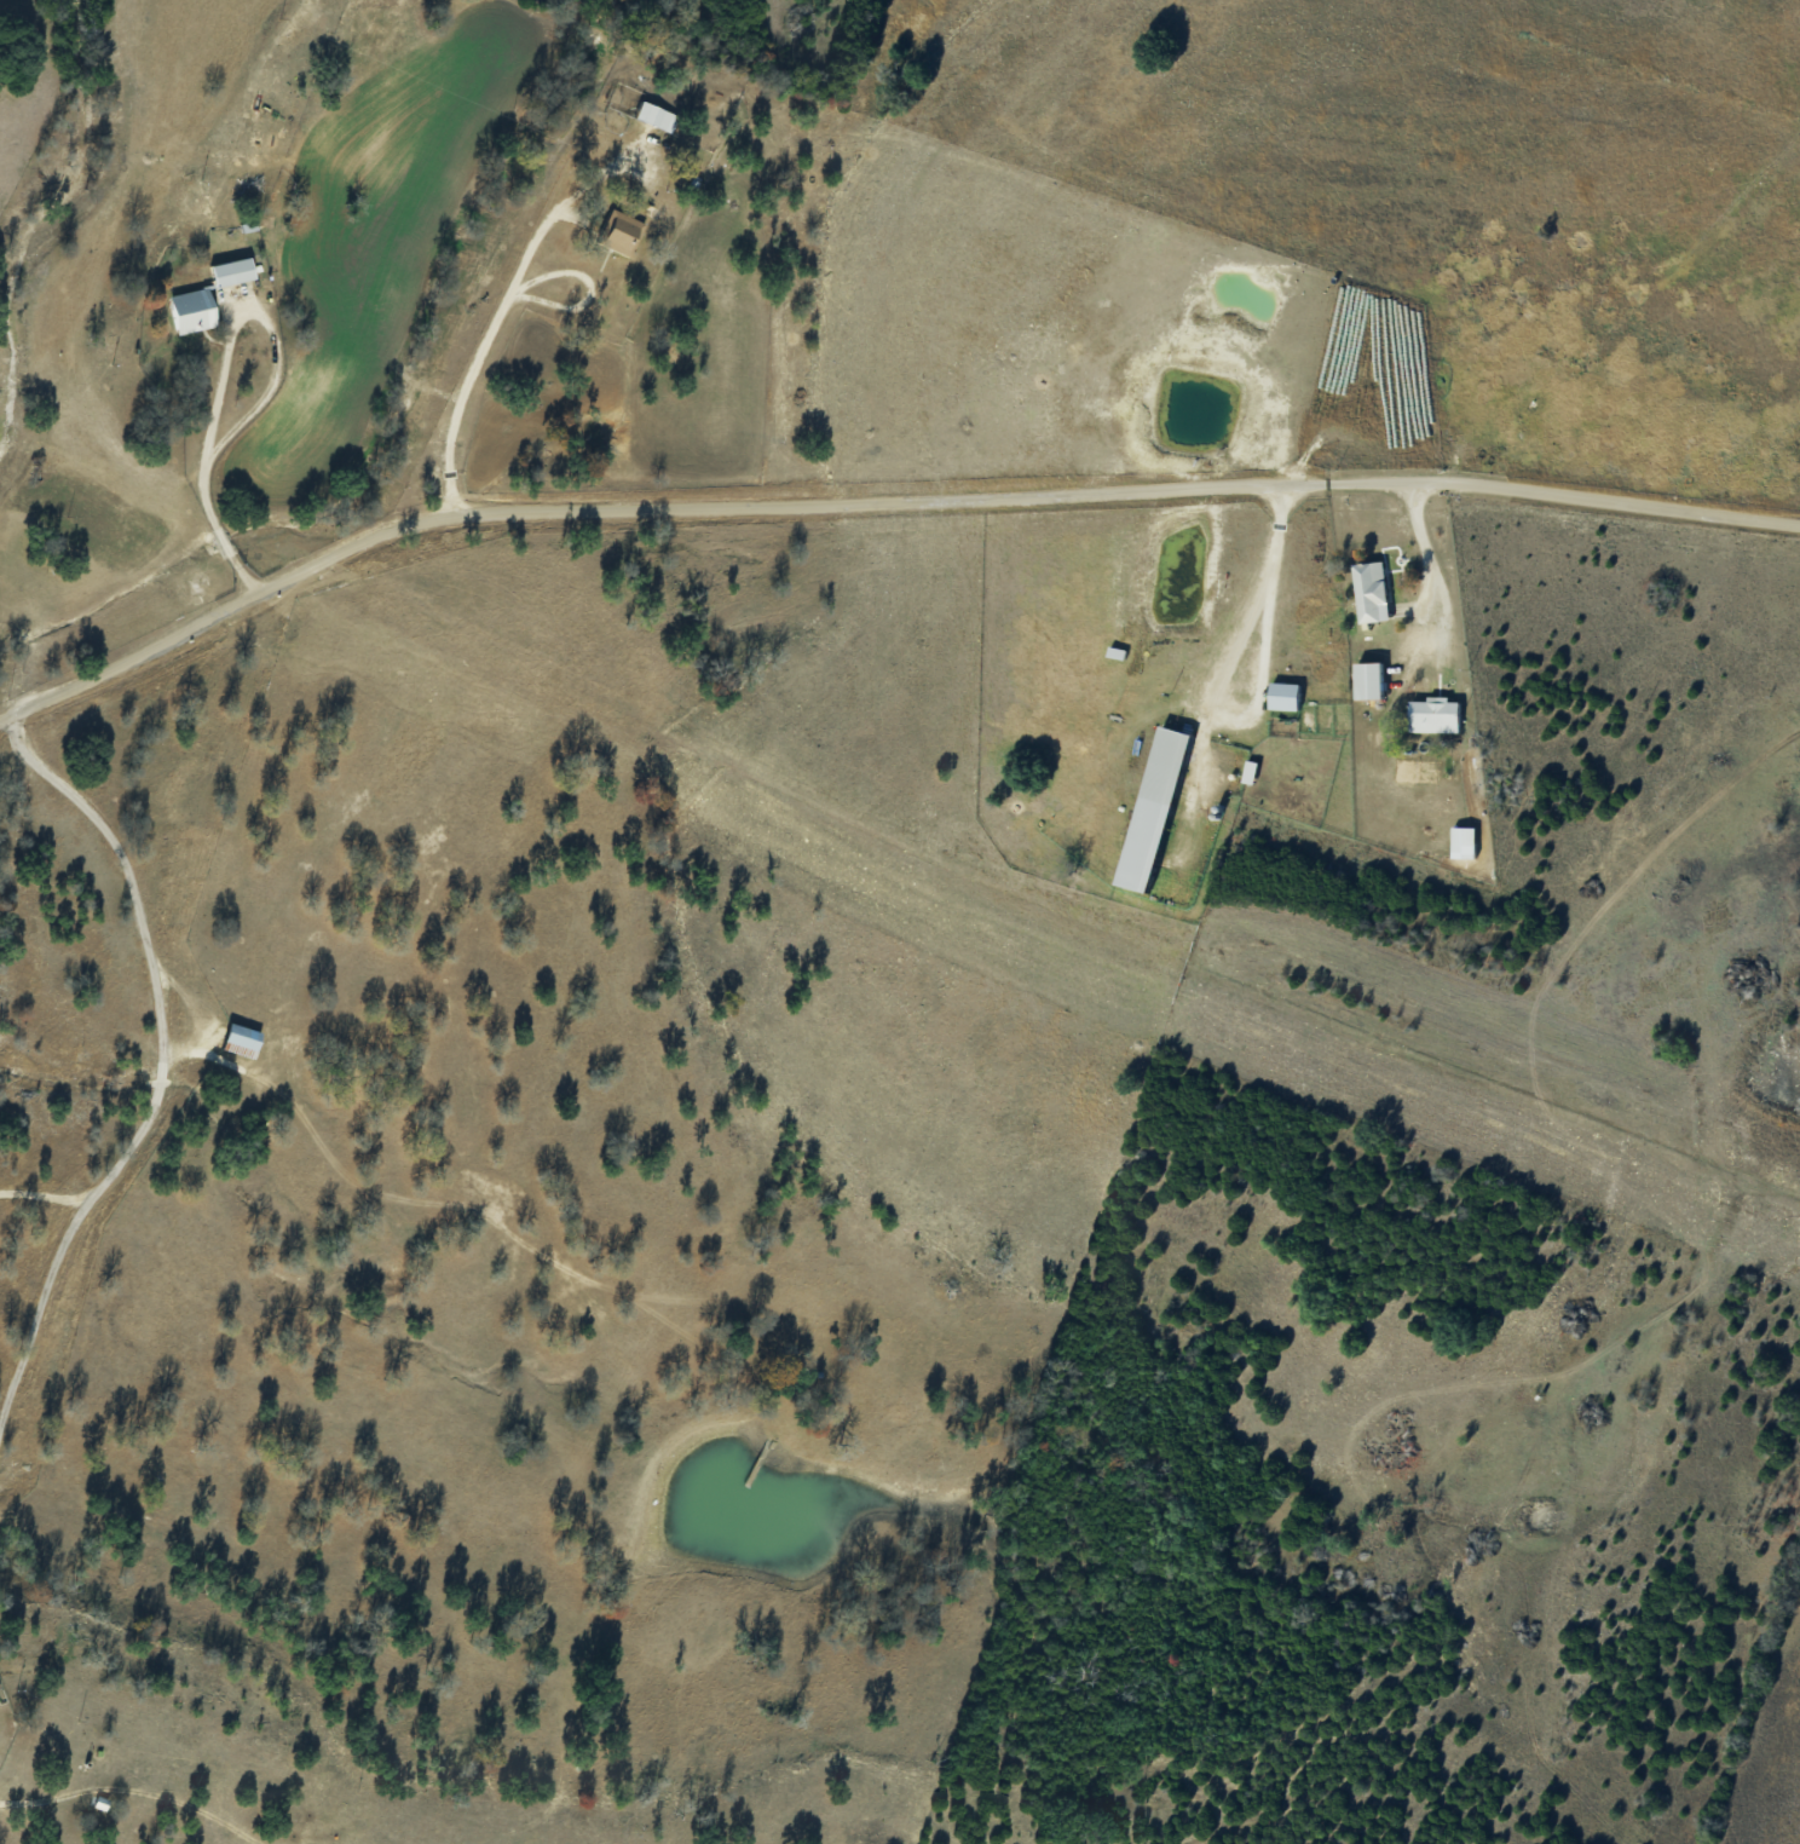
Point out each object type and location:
building: (231, 272)
building: (190, 311)
road: (878, 505)
building: (1371, 592)
building: (1367, 680)
building: (1283, 696)
building: (1432, 716)
building: (1152, 809)
building: (241, 1041)
road: (166, 1101)
building: (100, 1802)

